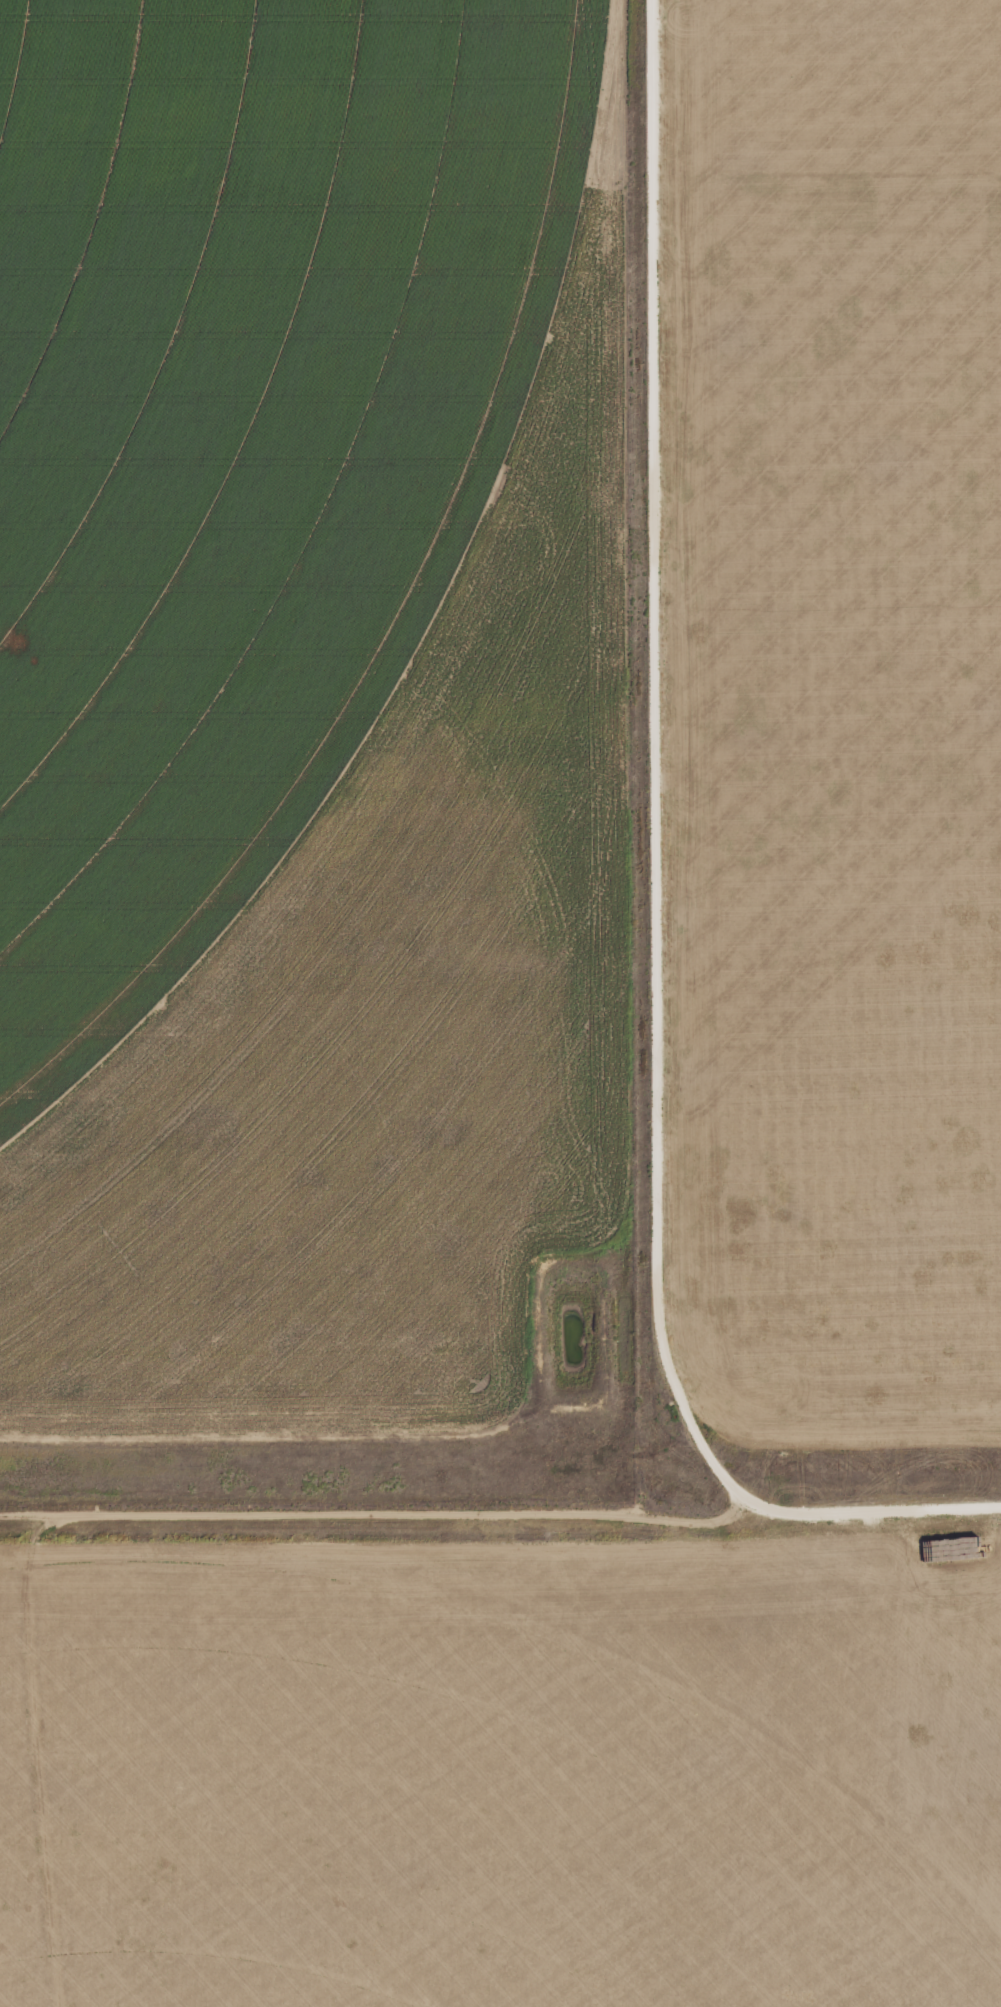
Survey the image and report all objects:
road: (672, 903)

